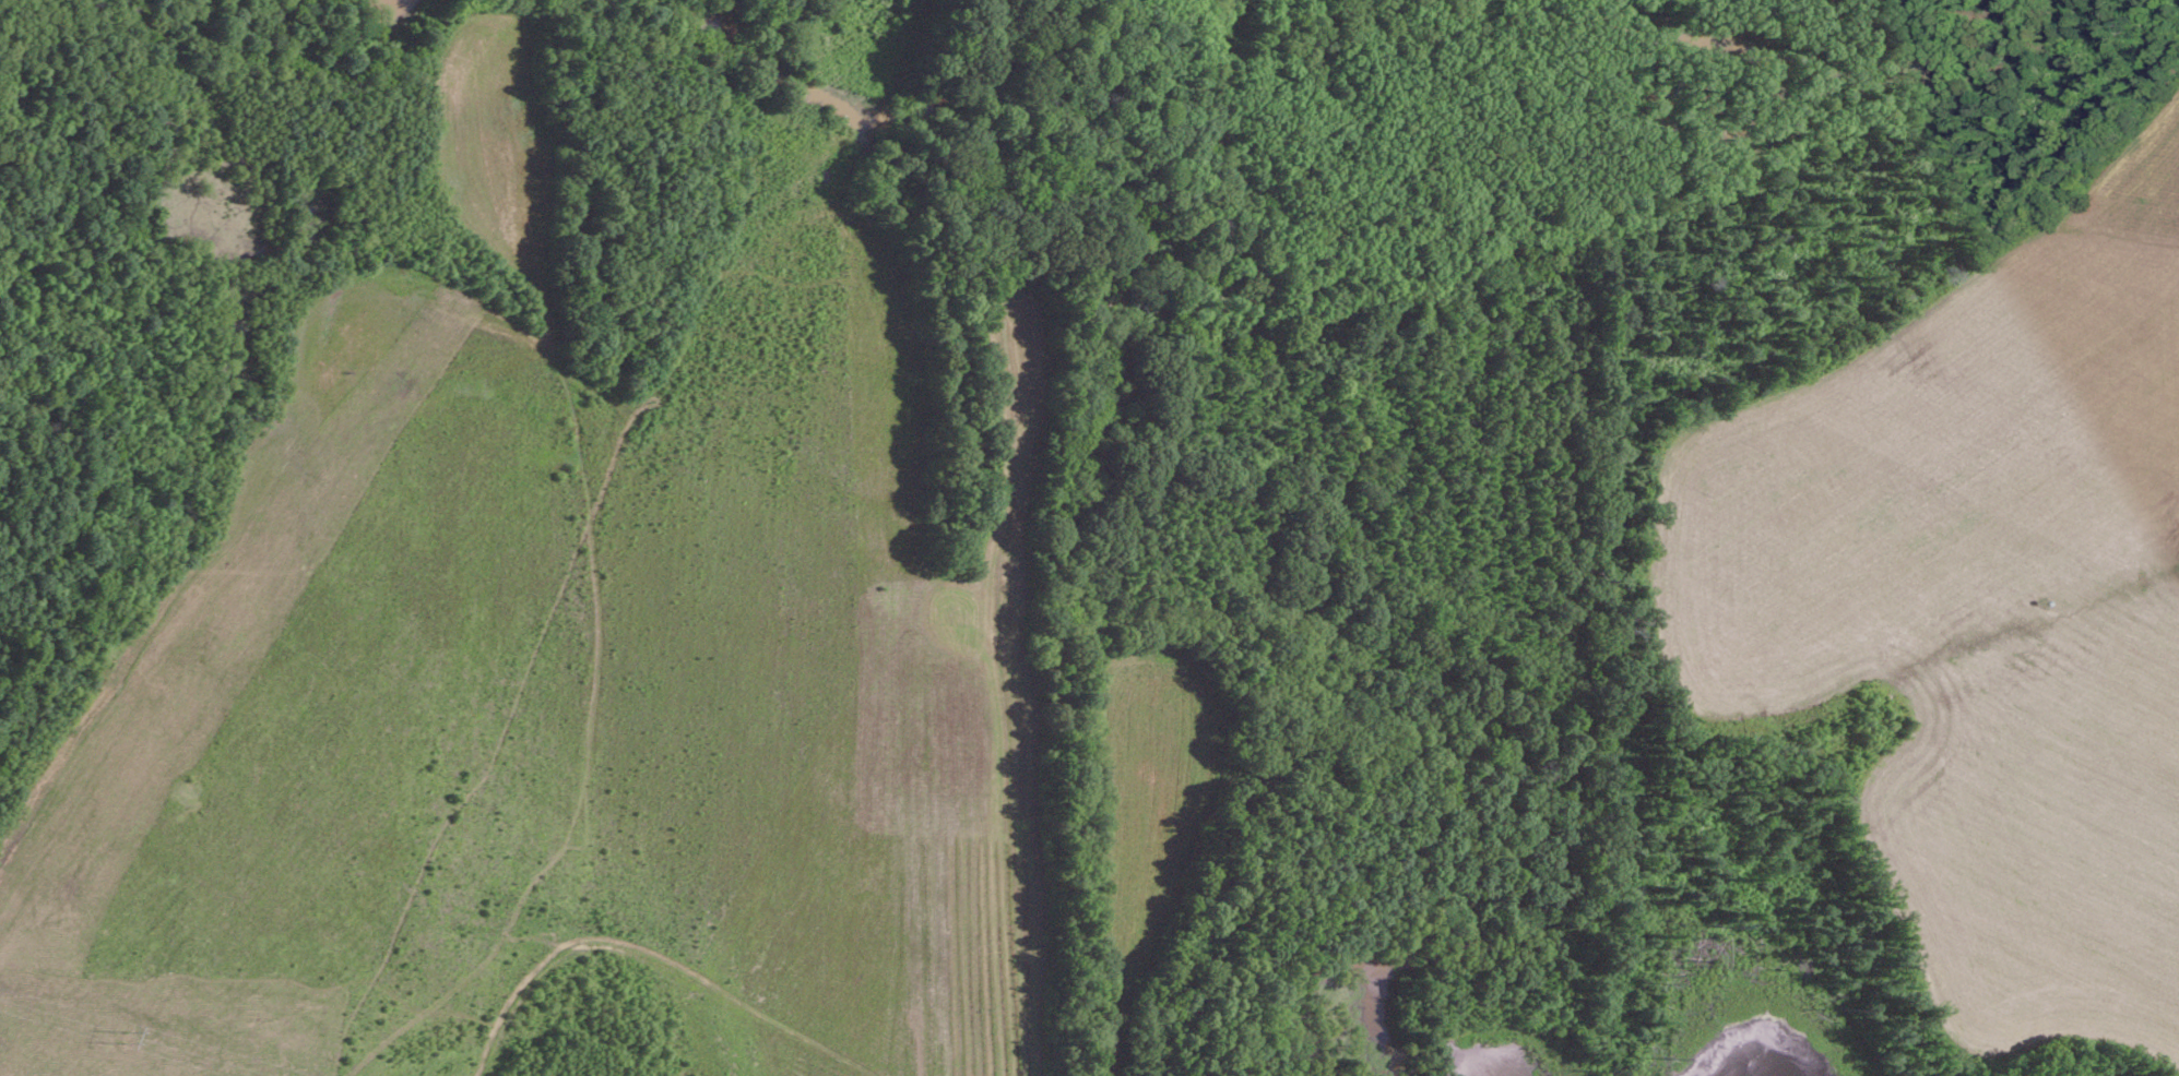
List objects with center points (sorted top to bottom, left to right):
crop: (564, 676)
power tower: (131, 1038)

